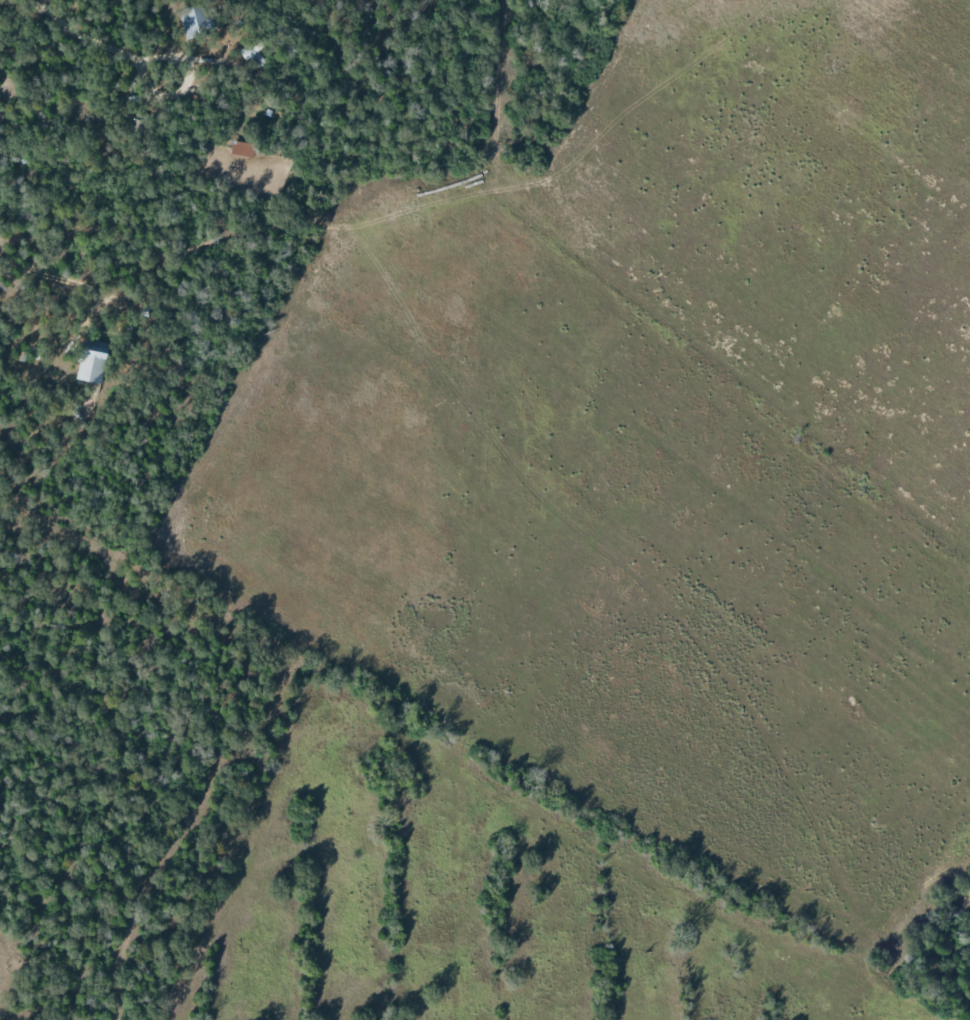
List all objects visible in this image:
building: (193, 21)
road: (103, 40)
road: (42, 277)
building: (91, 361)
road: (203, 391)
road: (180, 754)
road: (644, 839)

